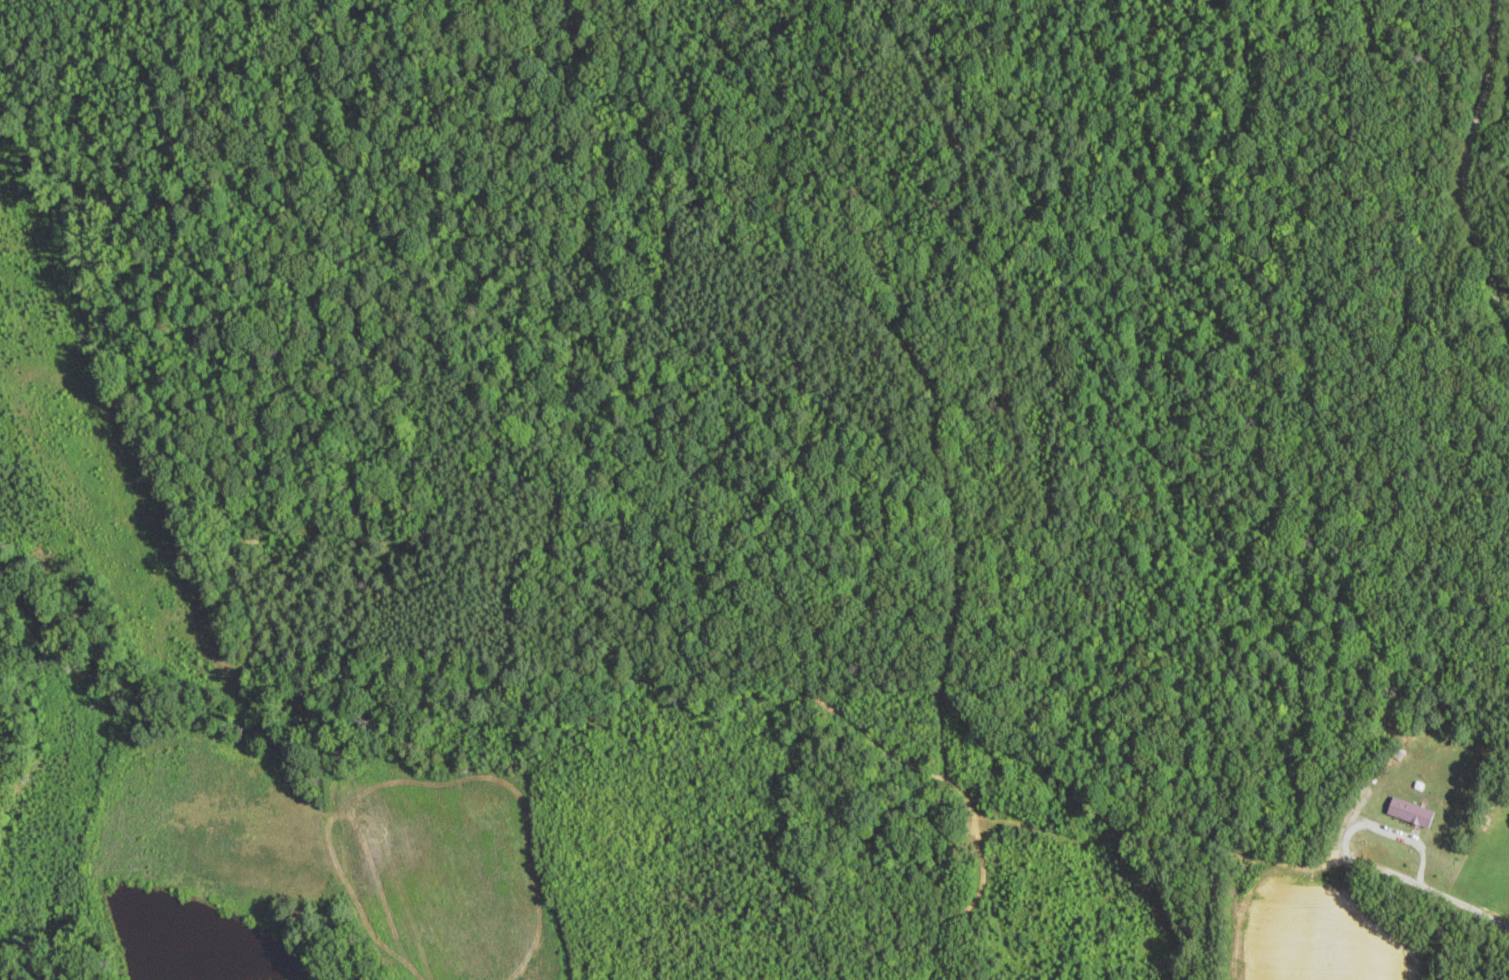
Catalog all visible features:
road: (1465, 167)
building: (1411, 812)
road: (1357, 827)
road: (1464, 904)

